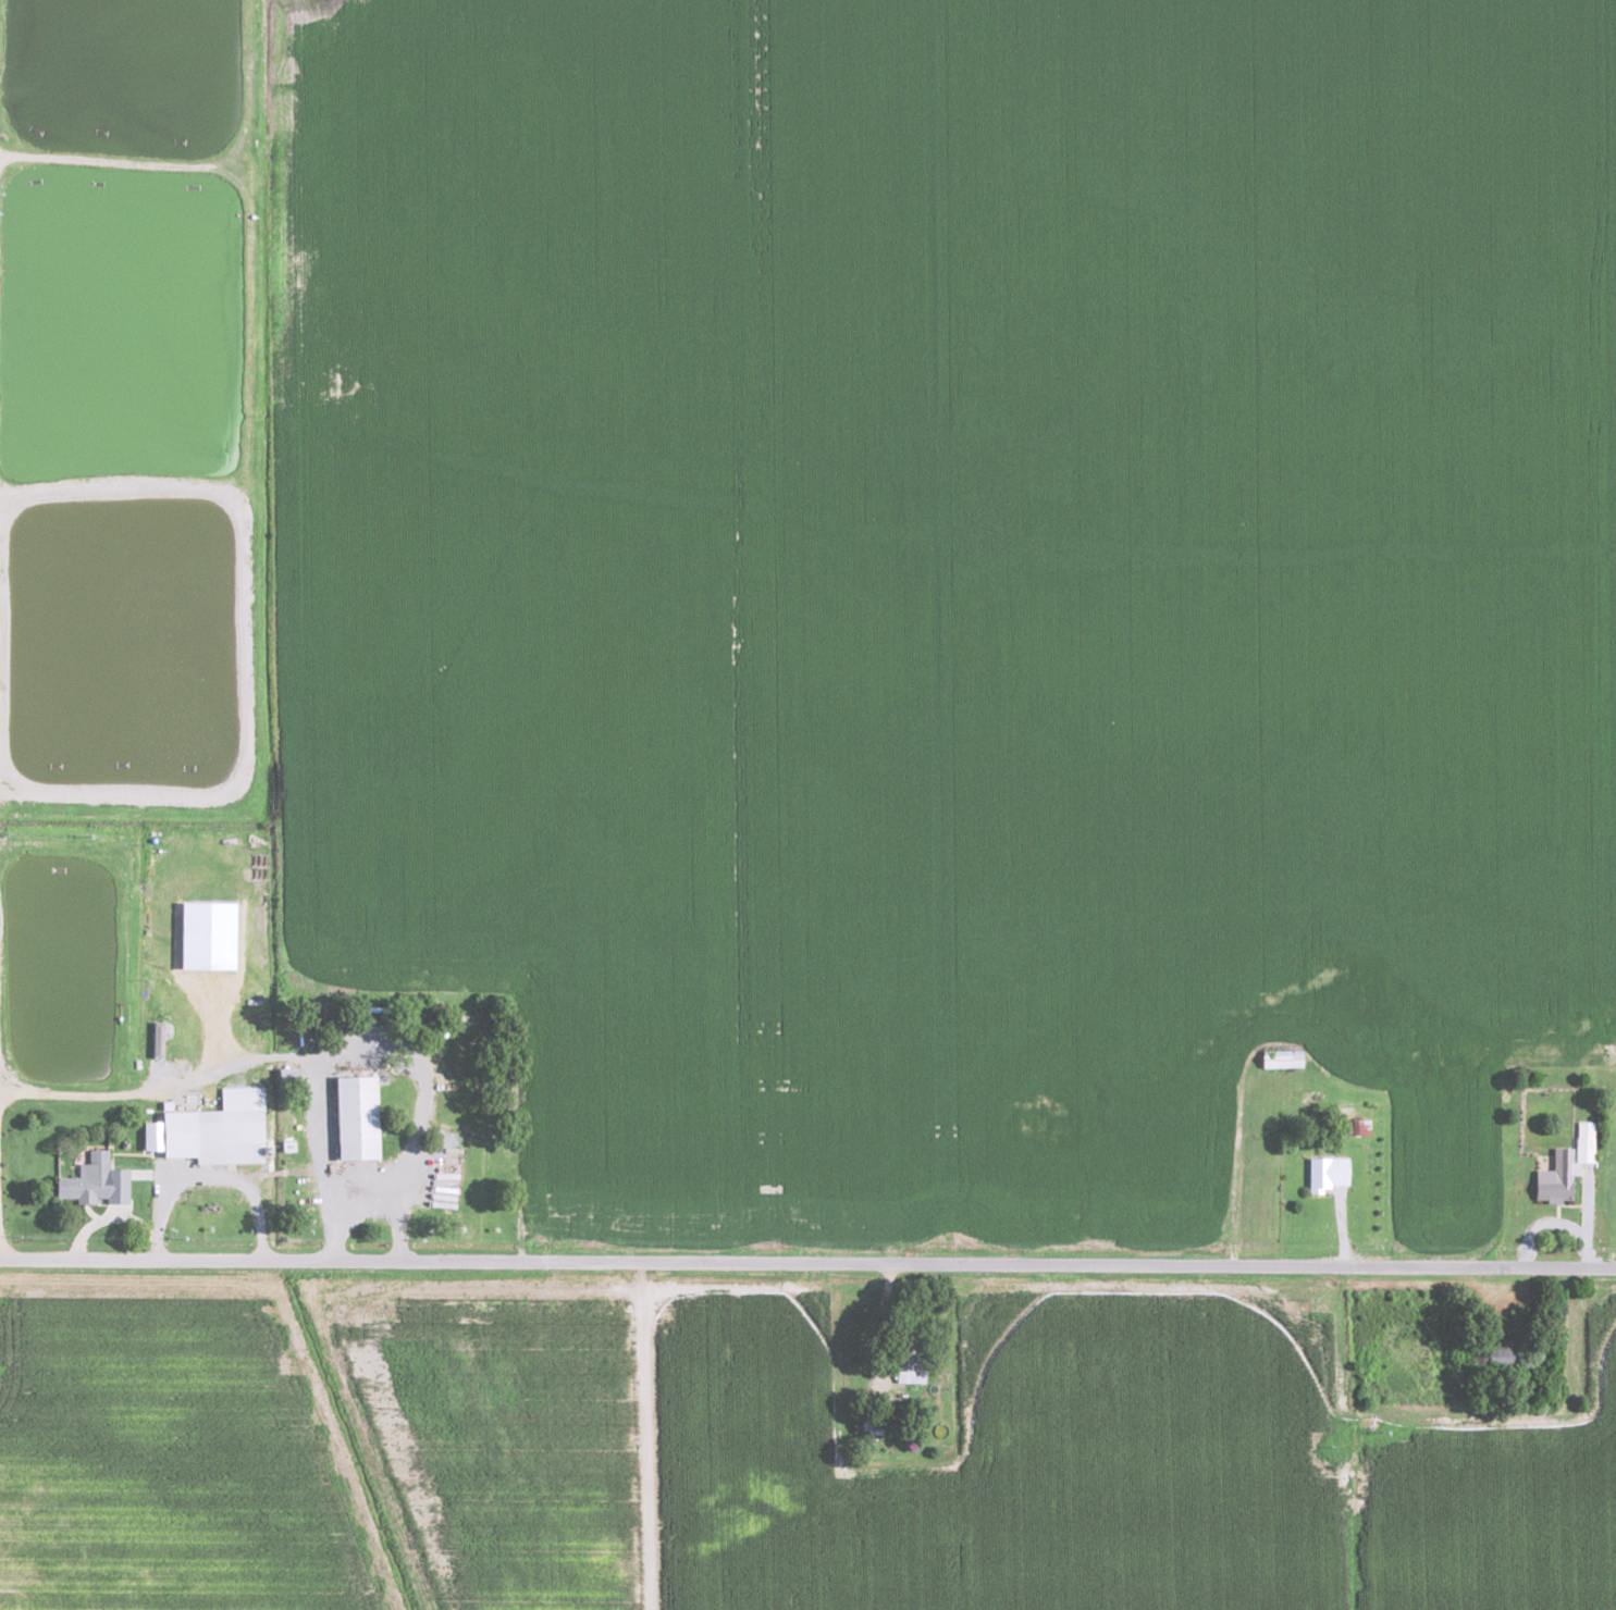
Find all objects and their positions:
building: (209, 934)
building: (159, 1039)
building: (1282, 1060)
building: (288, 1073)
building: (358, 1117)
building: (214, 1130)
building: (1587, 1141)
building: (1329, 1173)
building: (1559, 1177)
building: (97, 1180)
road: (1586, 1206)
road: (0, 1250)
road: (807, 1264)
road: (890, 1330)

